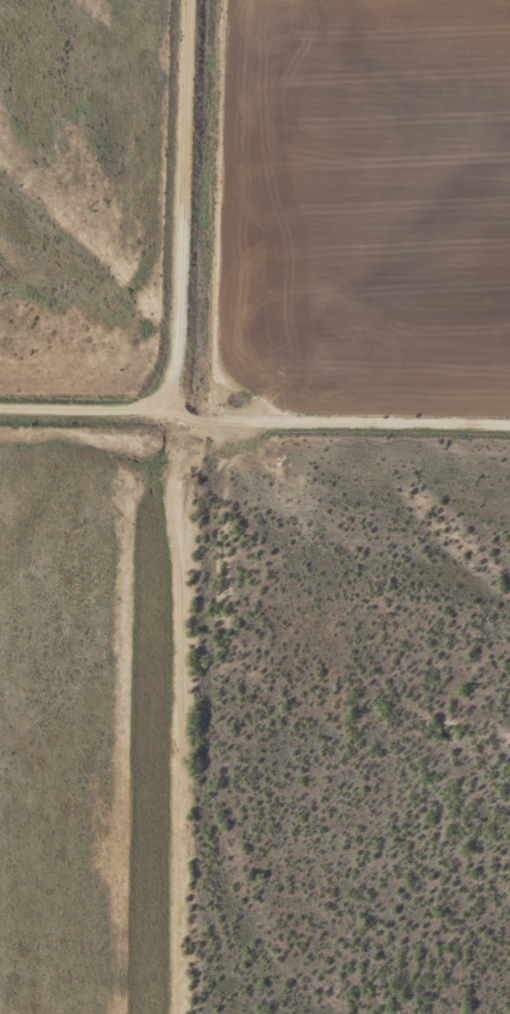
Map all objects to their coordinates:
road: (173, 198)
road: (337, 418)
road: (85, 419)

